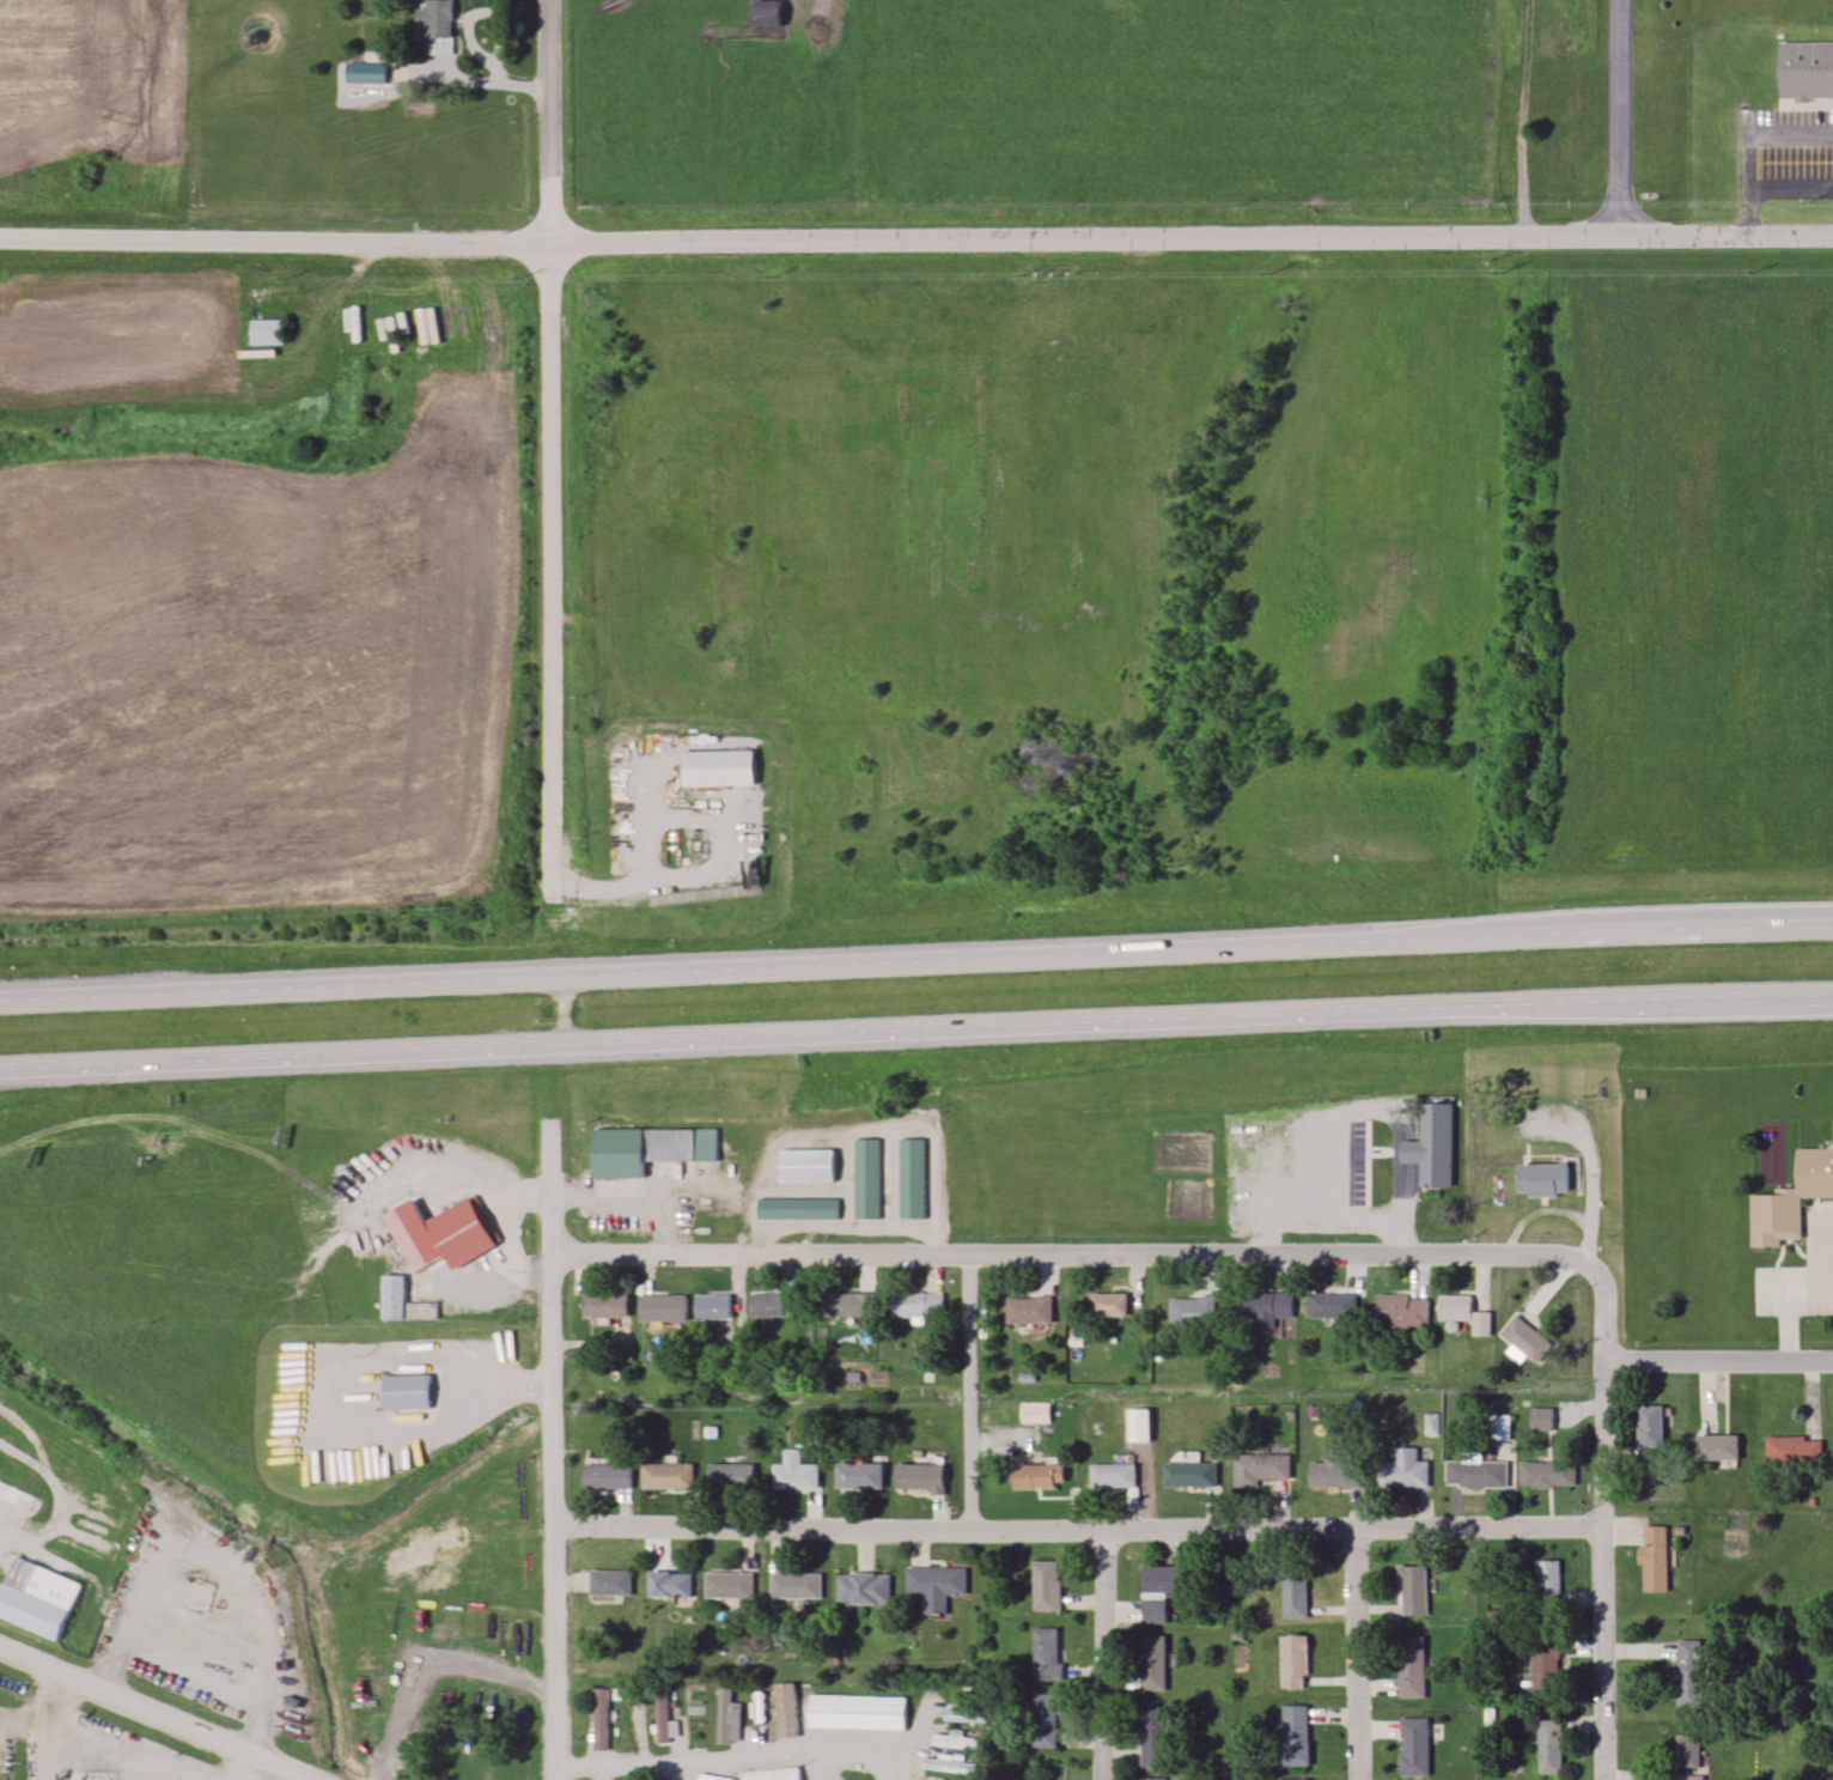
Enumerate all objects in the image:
building: (767, 14)
building: (436, 24)
building: (1807, 68)
building: (365, 73)
road: (480, 80)
crop: (93, 84)
road: (1749, 140)
parking lot: (1785, 152)
road: (1790, 186)
road: (1190, 237)
road: (274, 239)
building: (266, 332)
road: (553, 451)
crop: (260, 664)
building: (718, 769)
road: (706, 864)
road: (916, 961)
road: (1637, 1002)
road: (720, 1044)
road: (1329, 1113)
building: (1431, 1146)
building: (648, 1149)
building: (805, 1166)
parking lot: (1301, 1166)
road: (1593, 1170)
building: (869, 1179)
building: (912, 1179)
building: (1541, 1180)
building: (1791, 1199)
road: (583, 1201)
building: (798, 1208)
building: (449, 1241)
road: (1066, 1256)
building: (1107, 1302)
building: (605, 1304)
building: (847, 1304)
building: (766, 1305)
road: (1791, 1305)
building: (713, 1306)
building: (916, 1306)
building: (1332, 1306)
building: (662, 1307)
building: (1029, 1308)
building: (1266, 1310)
building: (422, 1311)
building: (1192, 1311)
building: (1401, 1311)
building: (1463, 1313)
building: (1524, 1338)
road: (1718, 1360)
road: (395, 1363)
road: (514, 1386)
building: (403, 1391)
road: (970, 1391)
building: (1035, 1413)
building: (1541, 1420)
building: (1139, 1426)
building: (1650, 1426)
building: (1717, 1447)
building: (1792, 1448)
road: (555, 1450)
building: (1263, 1466)
building: (1336, 1469)
building: (1403, 1470)
building: (794, 1474)
building: (1548, 1474)
building: (858, 1475)
building: (1190, 1475)
building: (1476, 1475)
building: (919, 1476)
building: (1114, 1476)
building: (608, 1477)
building: (668, 1477)
building: (730, 1477)
building: (1039, 1477)
building: (13, 1496)
road: (67, 1496)
road: (1602, 1514)
road: (1079, 1527)
building: (1655, 1559)
building: (610, 1582)
building: (1548, 1582)
building: (670, 1584)
building: (727, 1585)
building: (794, 1586)
building: (934, 1586)
building: (1046, 1586)
building: (861, 1588)
building: (1413, 1591)
building: (1158, 1592)
building: (1295, 1594)
building: (37, 1596)
road: (1104, 1653)
road: (1357, 1653)
building: (1047, 1654)
building: (1295, 1661)
building: (1153, 1663)
building: (1545, 1665)
building: (1411, 1667)
building: (1689, 1672)
road: (158, 1712)
building: (857, 1712)
building: (662, 1717)
building: (601, 1719)
building: (1047, 1719)
road: (54, 1726)
building: (1296, 1736)
building: (1155, 1737)
building: (960, 1742)
road: (644, 1746)
building: (1414, 1746)
building: (1549, 1746)
road: (121, 1750)
building: (1688, 1752)
road: (737, 1761)
road: (249, 1766)
building: (950, 1766)
road: (835, 1768)
building: (774, 1774)
building: (710, 1776)
building: (844, 1779)
building: (1153, 1779)
building: (1292, 1779)

